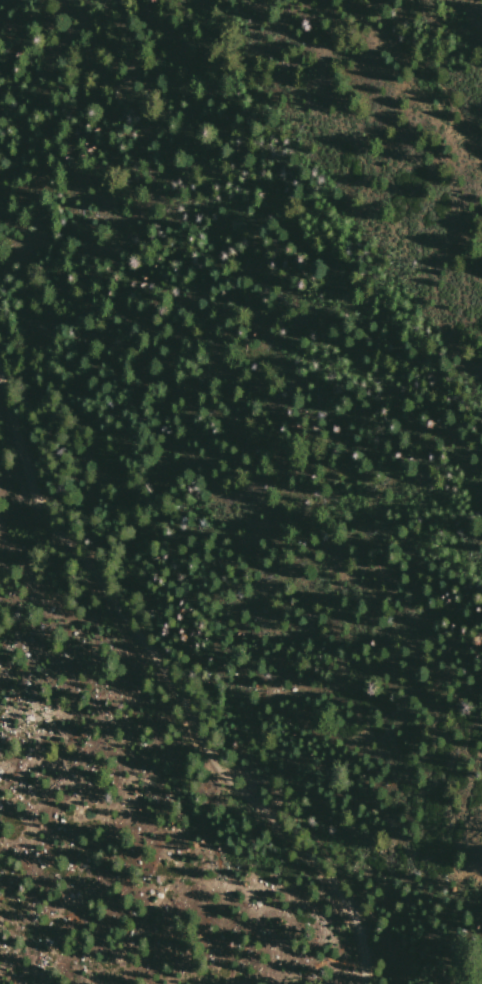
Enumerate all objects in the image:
road: (173, 691)

